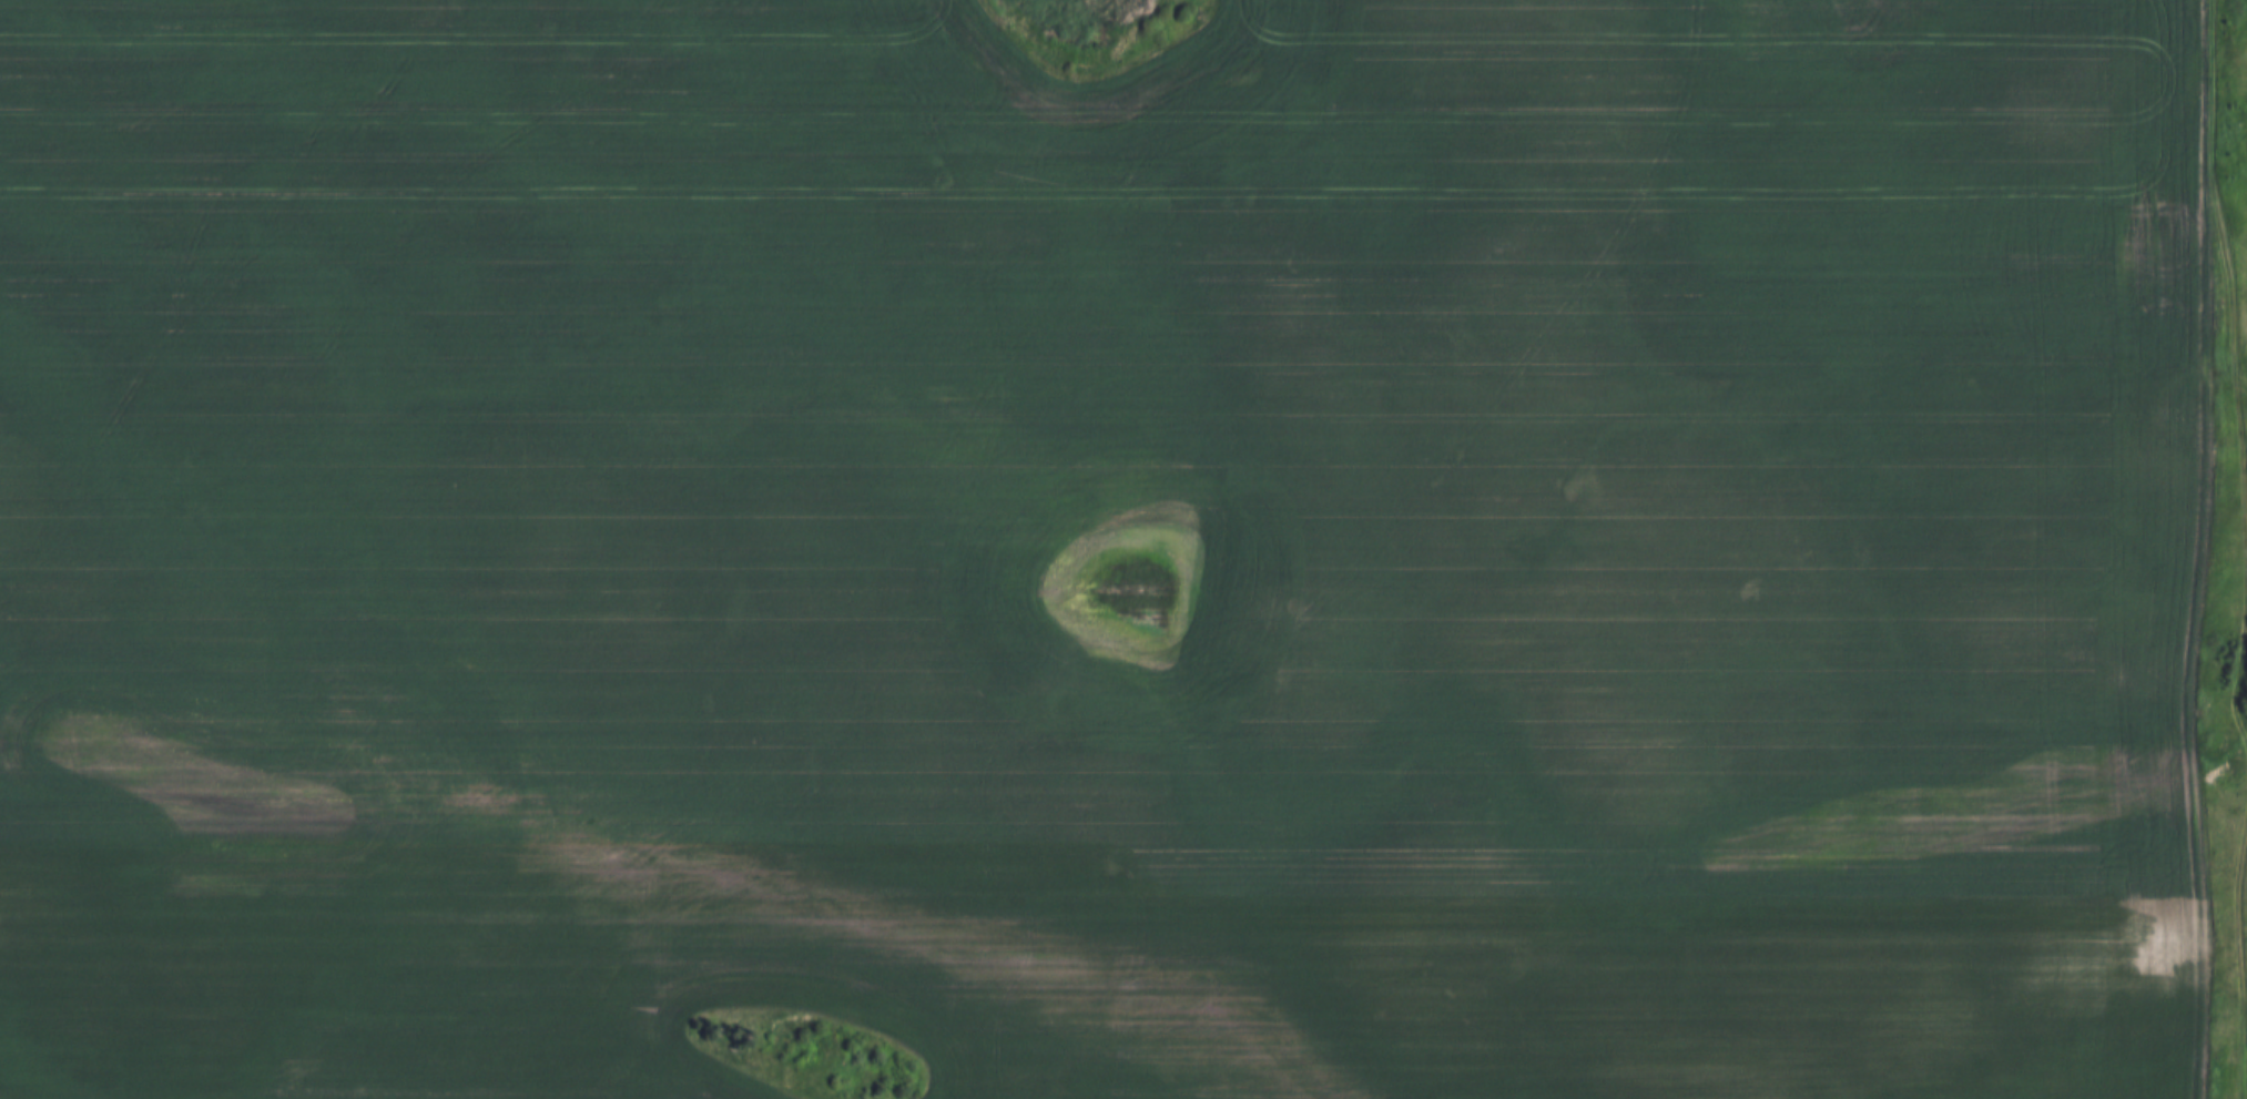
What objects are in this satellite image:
road: (2226, 248)
road: (2241, 960)

